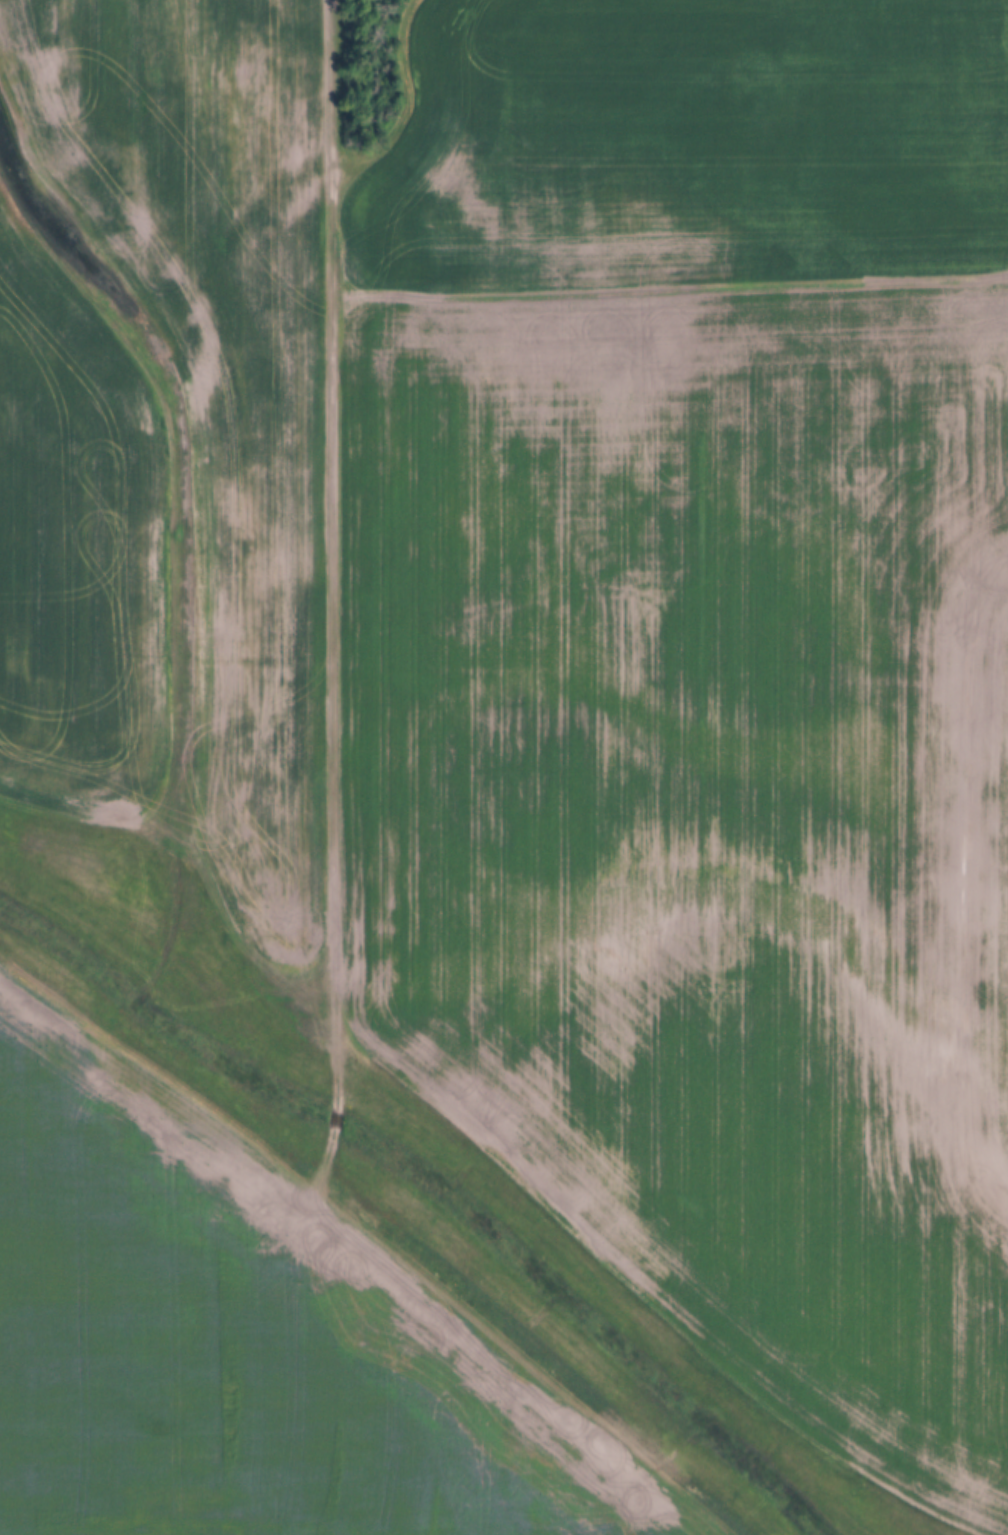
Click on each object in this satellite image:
road: (333, 564)

